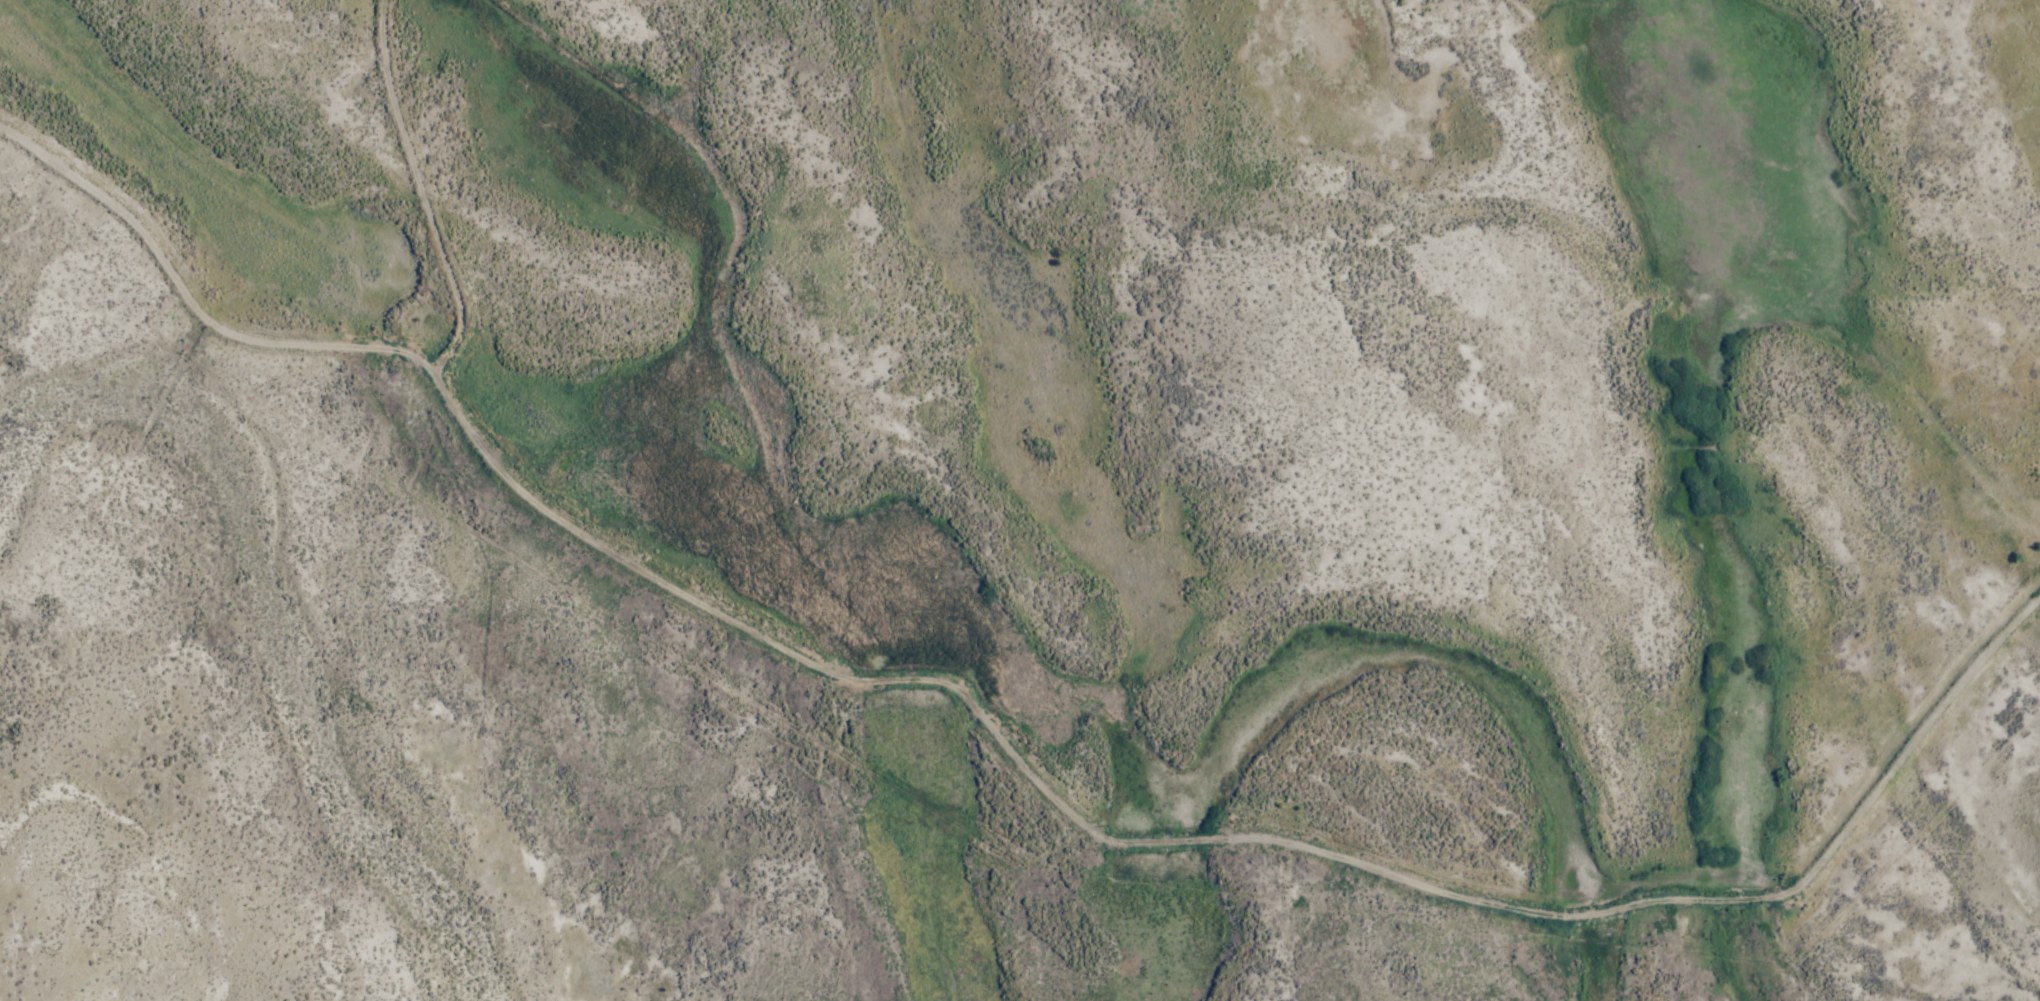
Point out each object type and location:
road: (406, 190)
road: (998, 756)

